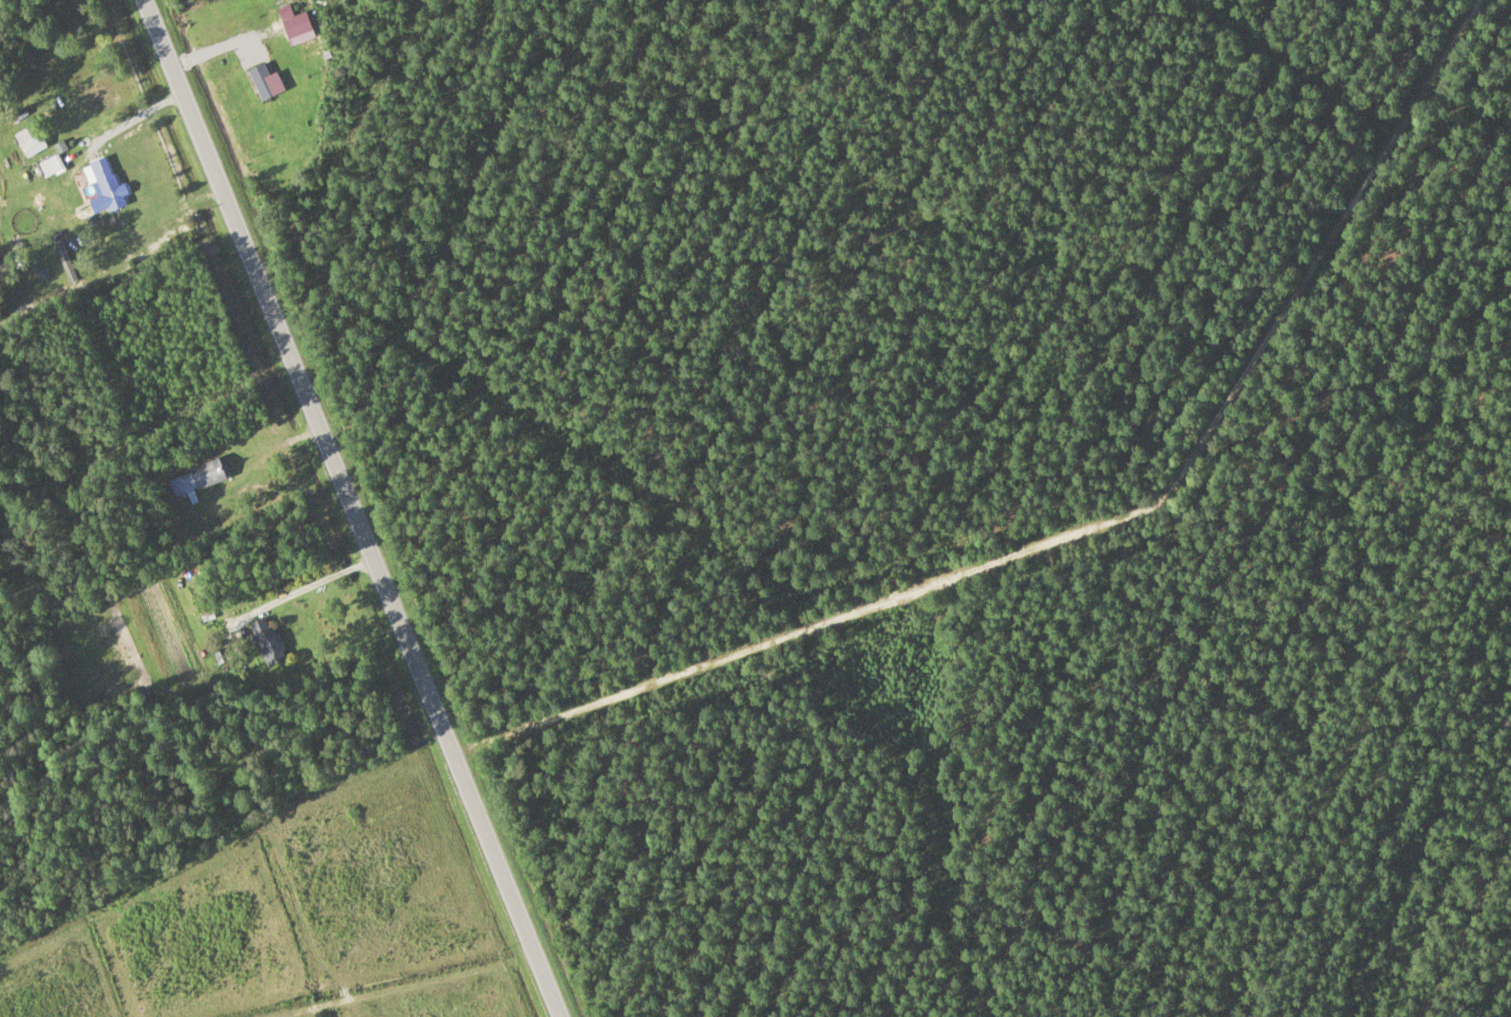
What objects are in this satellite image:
building: (50, 165)
building: (63, 258)
building: (196, 478)
road: (353, 508)
building: (266, 641)

